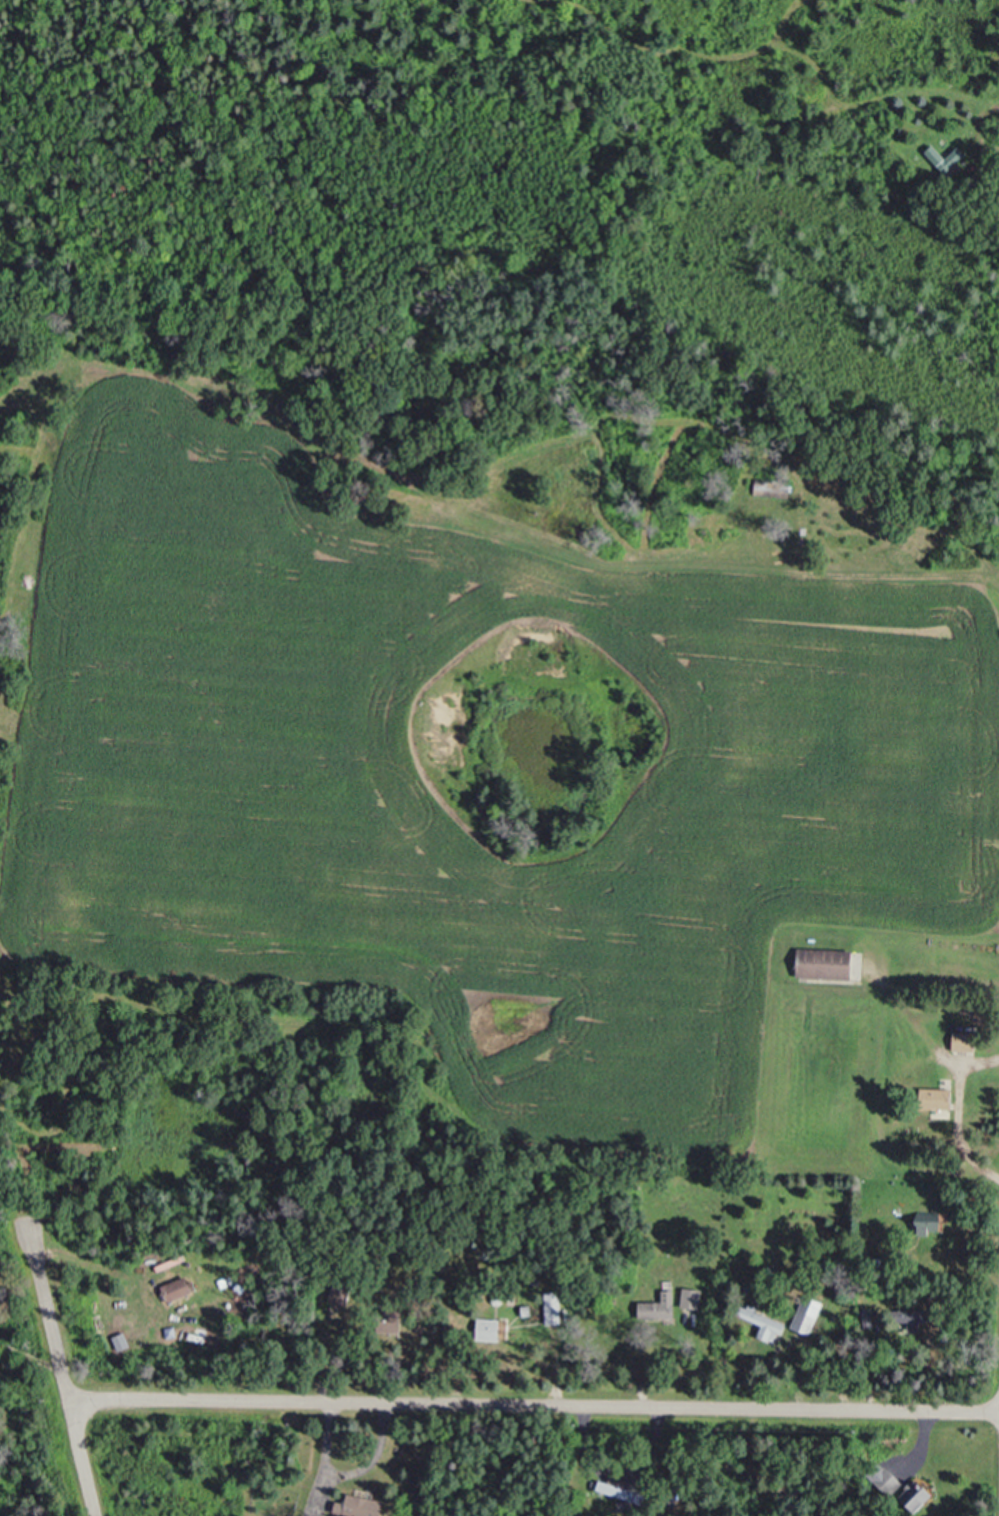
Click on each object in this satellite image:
building: (949, 159)
building: (829, 963)
building: (966, 1041)
road: (8, 1094)
building: (939, 1098)
building: (182, 1288)
building: (342, 1293)
building: (694, 1298)
building: (661, 1307)
building: (555, 1308)
building: (809, 1316)
building: (765, 1323)
road: (64, 1374)
road: (536, 1403)
building: (622, 1491)
building: (919, 1495)
building: (361, 1506)

